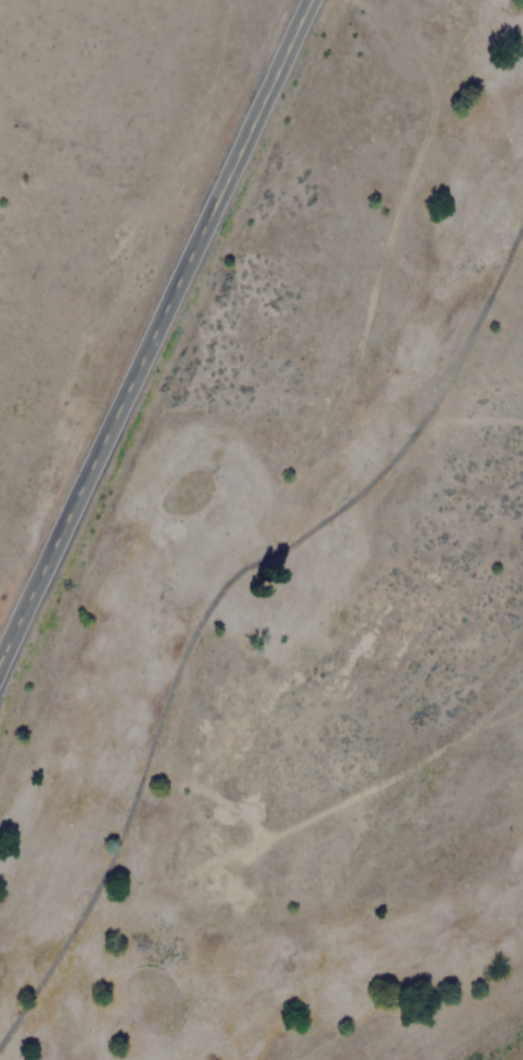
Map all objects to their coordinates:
road: (154, 326)
park: (306, 622)

